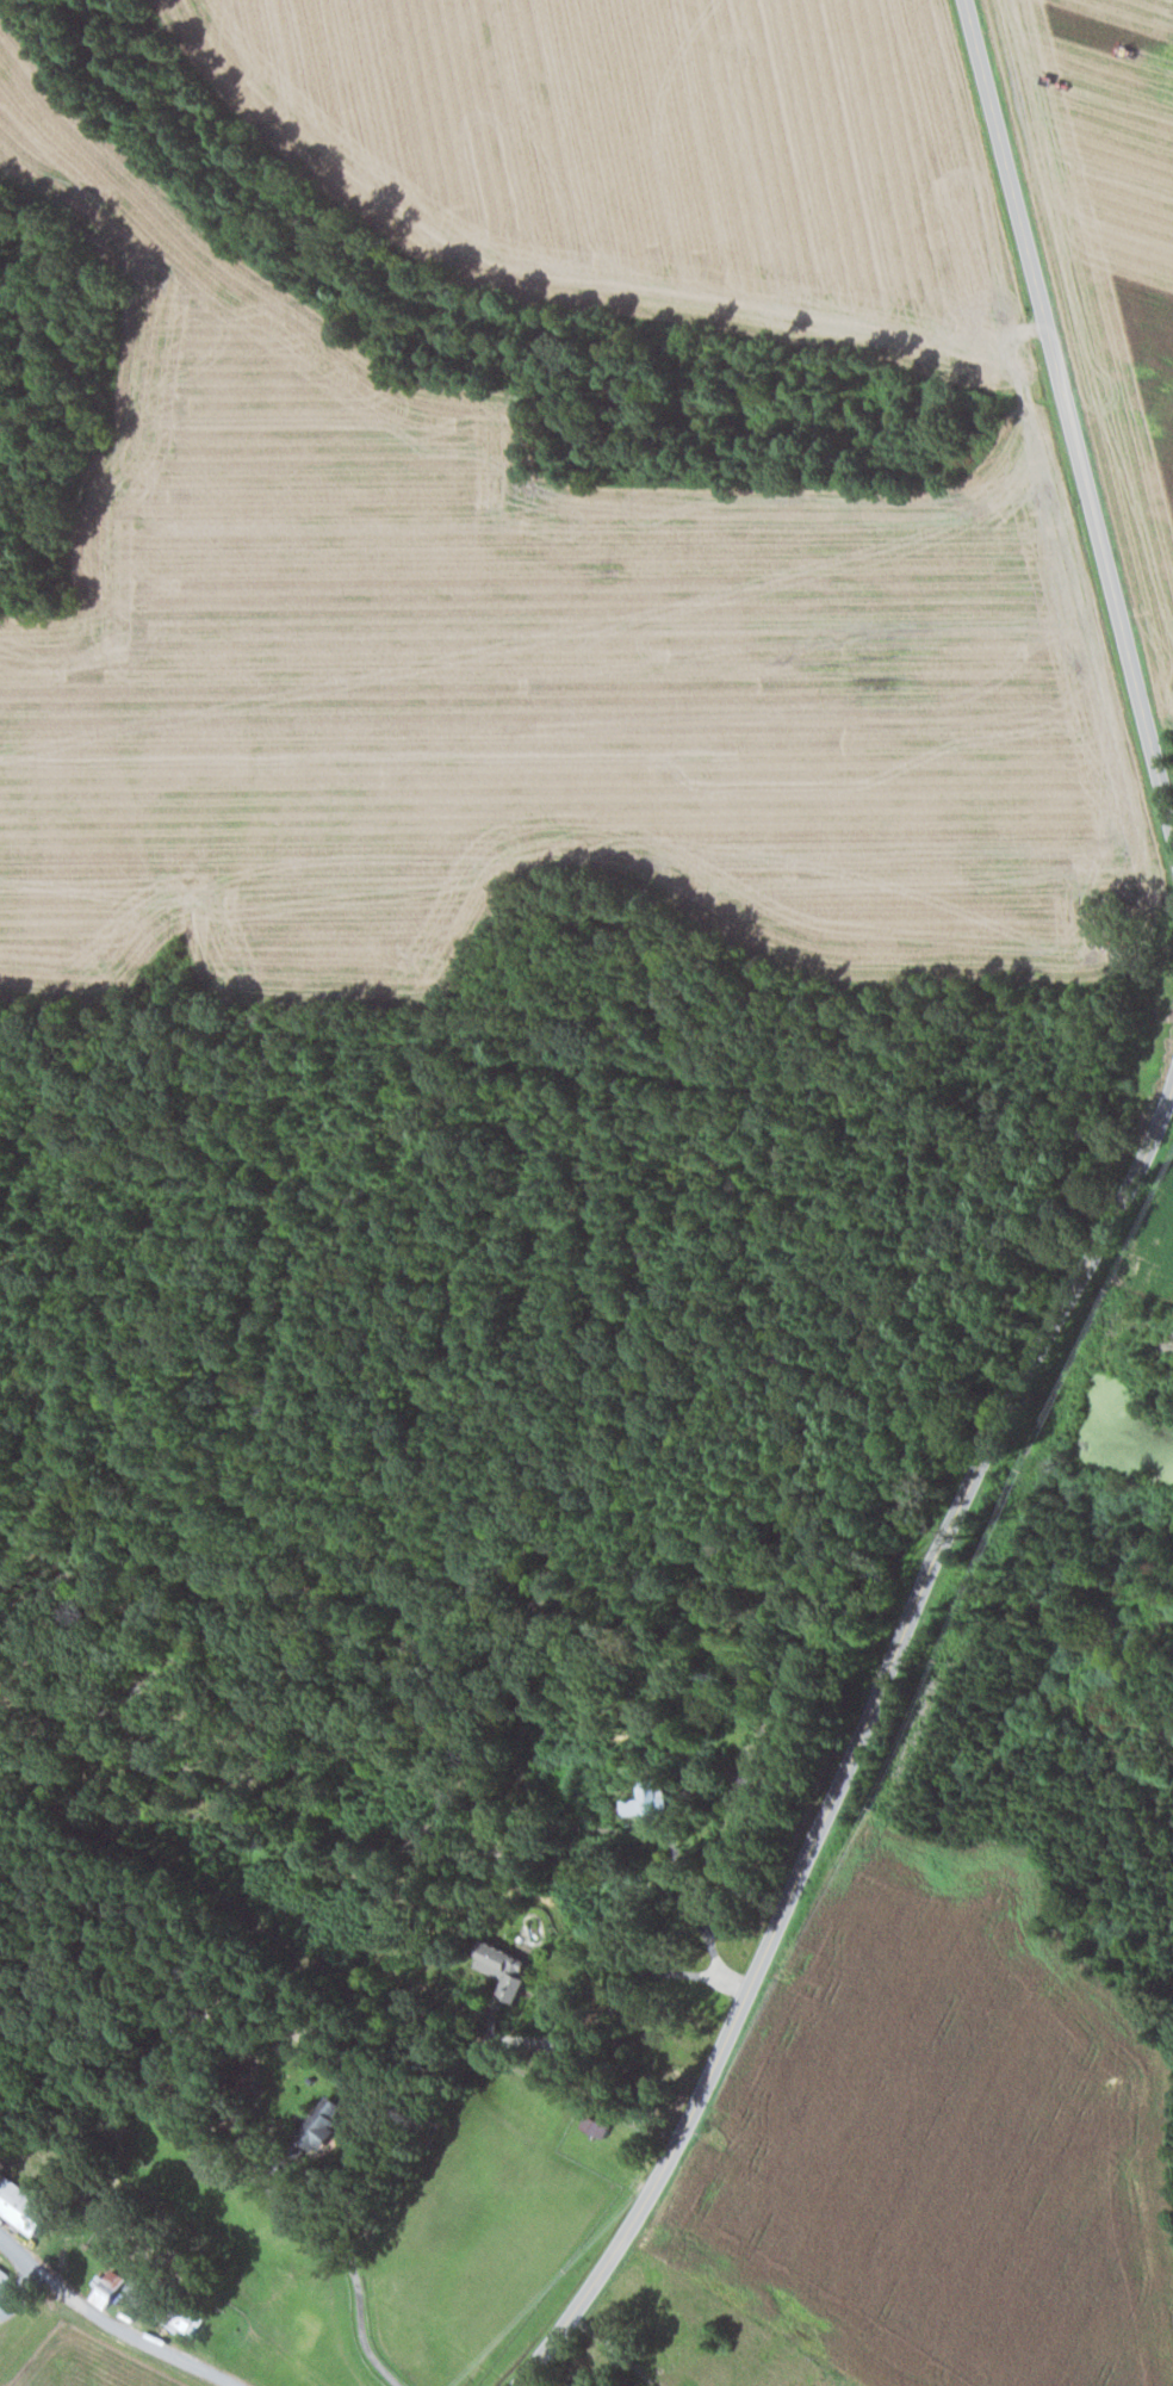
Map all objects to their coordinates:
road: (1068, 413)
road: (857, 1743)
building: (653, 1797)
building: (509, 1967)
building: (324, 2122)
building: (600, 2125)
building: (23, 2206)
building: (2, 2217)
road: (14, 2248)
building: (5, 2277)
road: (20, 2287)
building: (111, 2288)
road: (131, 2332)
road: (615, 2351)
road: (539, 2380)

